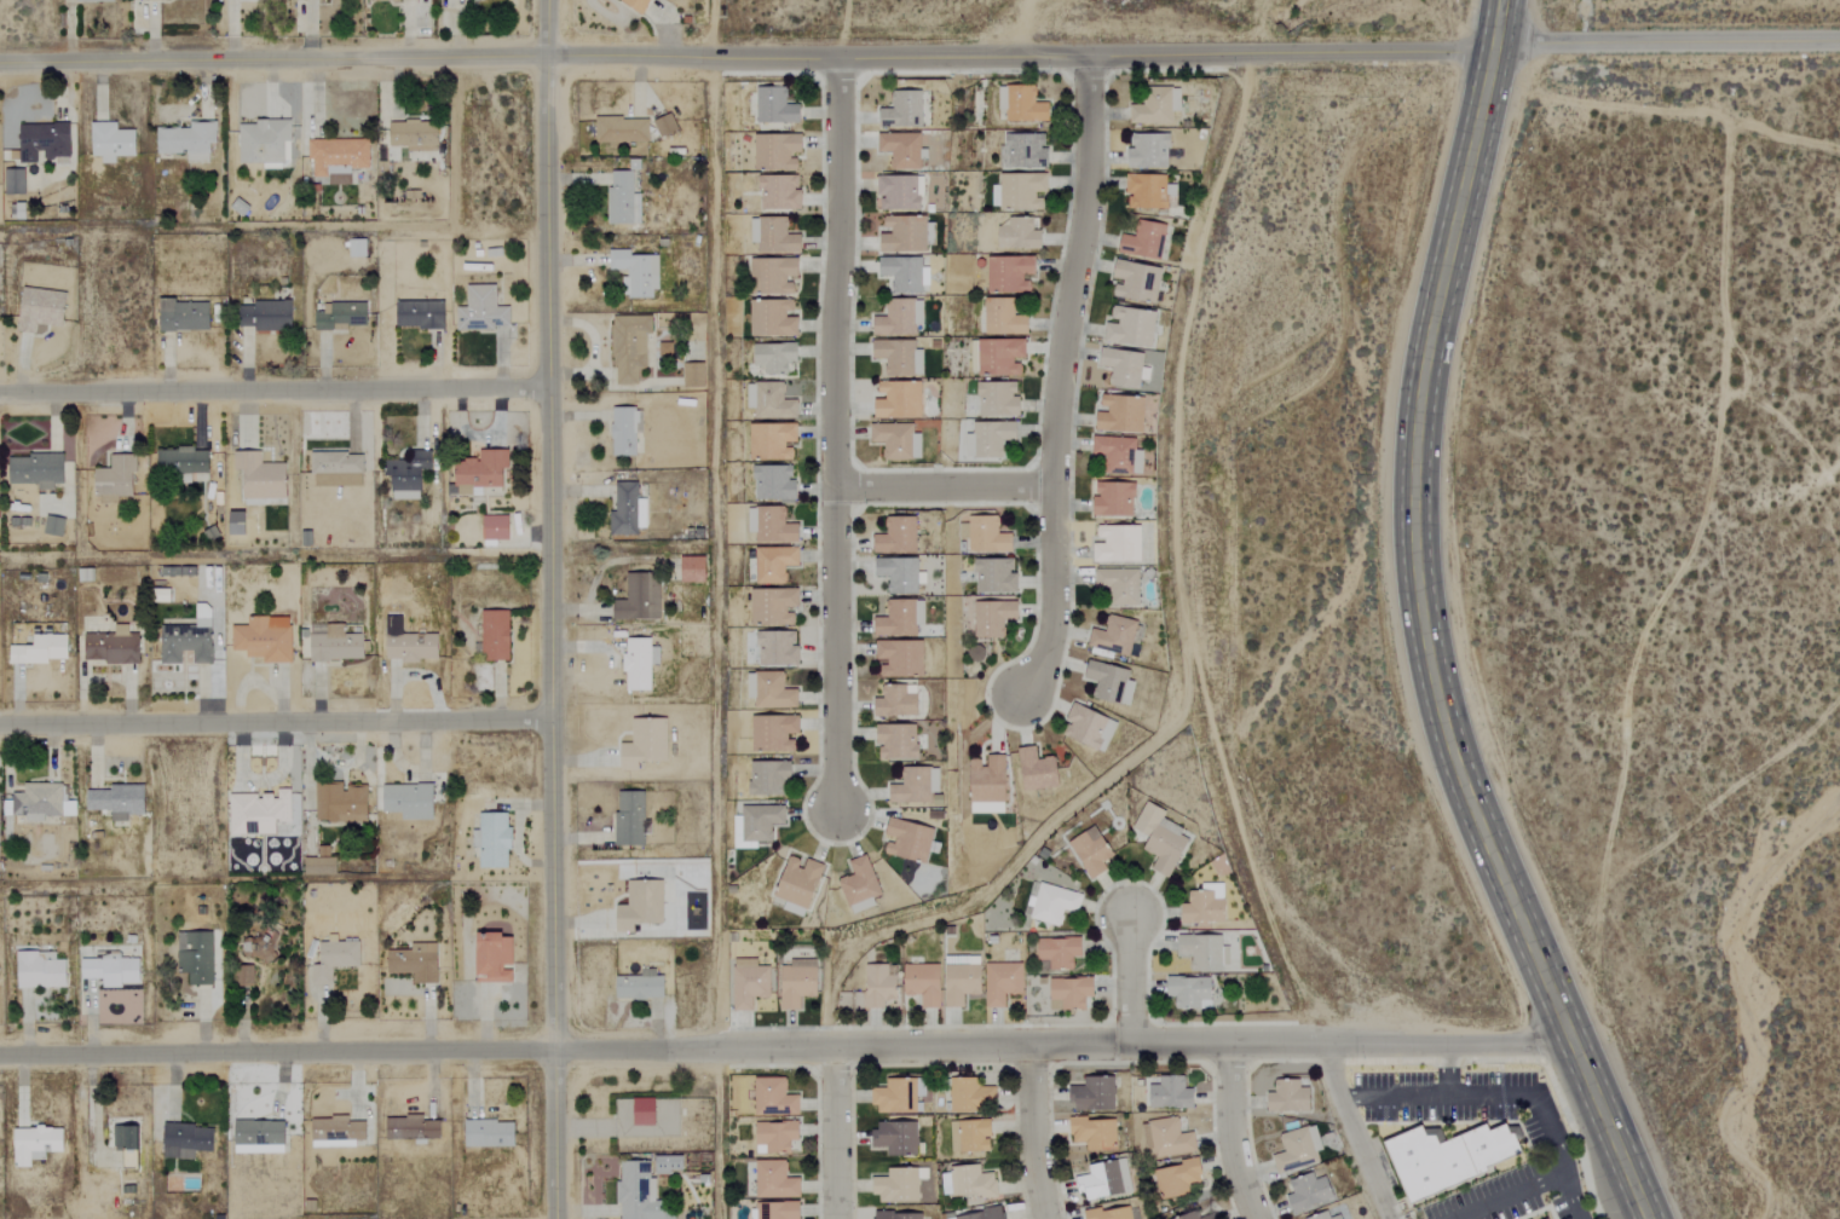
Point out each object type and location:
building: (85, 0)
building: (231, 0)
building: (375, 0)
building: (638, 5)
road: (1666, 42)
road: (419, 53)
road: (1164, 56)
building: (775, 105)
building: (1158, 106)
building: (904, 109)
building: (665, 125)
building: (622, 129)
building: (415, 135)
building: (188, 140)
building: (42, 141)
building: (111, 141)
building: (265, 141)
building: (902, 149)
building: (777, 150)
building: (1026, 150)
building: (1148, 150)
building: (339, 158)
building: (13, 181)
building: (1020, 190)
building: (1148, 190)
building: (900, 191)
building: (779, 192)
building: (623, 200)
building: (909, 233)
building: (1020, 233)
building: (1147, 239)
building: (357, 247)
building: (636, 272)
building: (905, 273)
building: (1010, 273)
building: (773, 276)
building: (1136, 281)
building: (41, 308)
building: (483, 310)
building: (184, 314)
building: (421, 314)
building: (273, 316)
building: (900, 316)
building: (248, 317)
building: (340, 317)
building: (1003, 317)
building: (772, 318)
building: (1131, 325)
building: (667, 346)
building: (629, 347)
building: (900, 356)
building: (999, 356)
building: (774, 357)
building: (1124, 366)
building: (694, 375)
road: (1063, 380)
road: (271, 389)
building: (998, 398)
building: (899, 399)
building: (772, 401)
building: (1121, 414)
building: (625, 429)
road: (835, 435)
building: (990, 438)
building: (772, 440)
building: (896, 440)
building: (1119, 453)
building: (181, 461)
building: (338, 469)
building: (36, 470)
building: (483, 472)
building: (409, 474)
building: (261, 476)
building: (115, 479)
building: (773, 483)
road: (942, 489)
building: (1114, 498)
building: (628, 509)
building: (771, 525)
building: (53, 526)
building: (495, 527)
building: (898, 536)
building: (987, 536)
building: (1117, 543)
building: (774, 564)
road: (1679, 565)
building: (693, 568)
building: (900, 574)
building: (996, 576)
building: (1120, 584)
building: (640, 597)
building: (774, 606)
road: (542, 609)
building: (993, 617)
building: (901, 618)
road: (1420, 625)
building: (495, 635)
building: (1117, 635)
building: (265, 639)
building: (189, 640)
building: (335, 643)
building: (113, 646)
building: (413, 646)
building: (778, 647)
building: (40, 649)
building: (900, 657)
building: (640, 663)
building: (1111, 682)
building: (774, 691)
building: (898, 701)
road: (271, 723)
building: (1090, 727)
building: (774, 733)
building: (898, 741)
building: (645, 743)
building: (293, 769)
building: (1037, 769)
building: (769, 776)
building: (987, 784)
building: (916, 785)
building: (119, 801)
building: (409, 801)
building: (40, 802)
building: (341, 802)
building: (259, 811)
building: (631, 818)
building: (757, 825)
building: (1160, 838)
building: (910, 839)
building: (494, 840)
building: (1091, 851)
building: (319, 866)
building: (798, 885)
building: (860, 885)
building: (1052, 903)
building: (641, 905)
building: (1205, 905)
building: (265, 946)
building: (1060, 952)
building: (1205, 952)
building: (196, 957)
building: (495, 958)
building: (335, 959)
building: (416, 963)
building: (40, 970)
building: (110, 970)
building: (962, 980)
building: (797, 982)
building: (1003, 982)
road: (1130, 982)
building: (749, 983)
building: (924, 983)
building: (641, 986)
building: (878, 986)
building: (1190, 992)
building: (1071, 993)
road: (785, 1051)
road: (1448, 1071)
building: (1171, 1093)
building: (970, 1094)
building: (1094, 1094)
road: (1502, 1096)
building: (774, 1097)
building: (896, 1097)
building: (1290, 1097)
building: (645, 1111)
road: (90, 1116)
building: (336, 1132)
building: (489, 1133)
building: (1095, 1133)
road: (1354, 1133)
road: (834, 1134)
building: (126, 1136)
building: (970, 1136)
road: (1029, 1136)
building: (1147, 1136)
road: (1230, 1136)
building: (259, 1137)
building: (777, 1137)
building: (896, 1137)
building: (1171, 1138)
building: (188, 1140)
building: (35, 1144)
building: (1298, 1149)
building: (1444, 1157)
building: (668, 1163)
building: (1179, 1178)
building: (775, 1180)
building: (1104, 1180)
building: (968, 1183)
building: (900, 1185)
building: (1310, 1191)
building: (639, 1192)
road: (1509, 1196)
building: (779, 1209)
building: (1112, 1213)
building: (982, 1214)
building: (899, 1215)
building: (1200, 1215)
building: (1326, 1217)
building: (1552, 1218)

